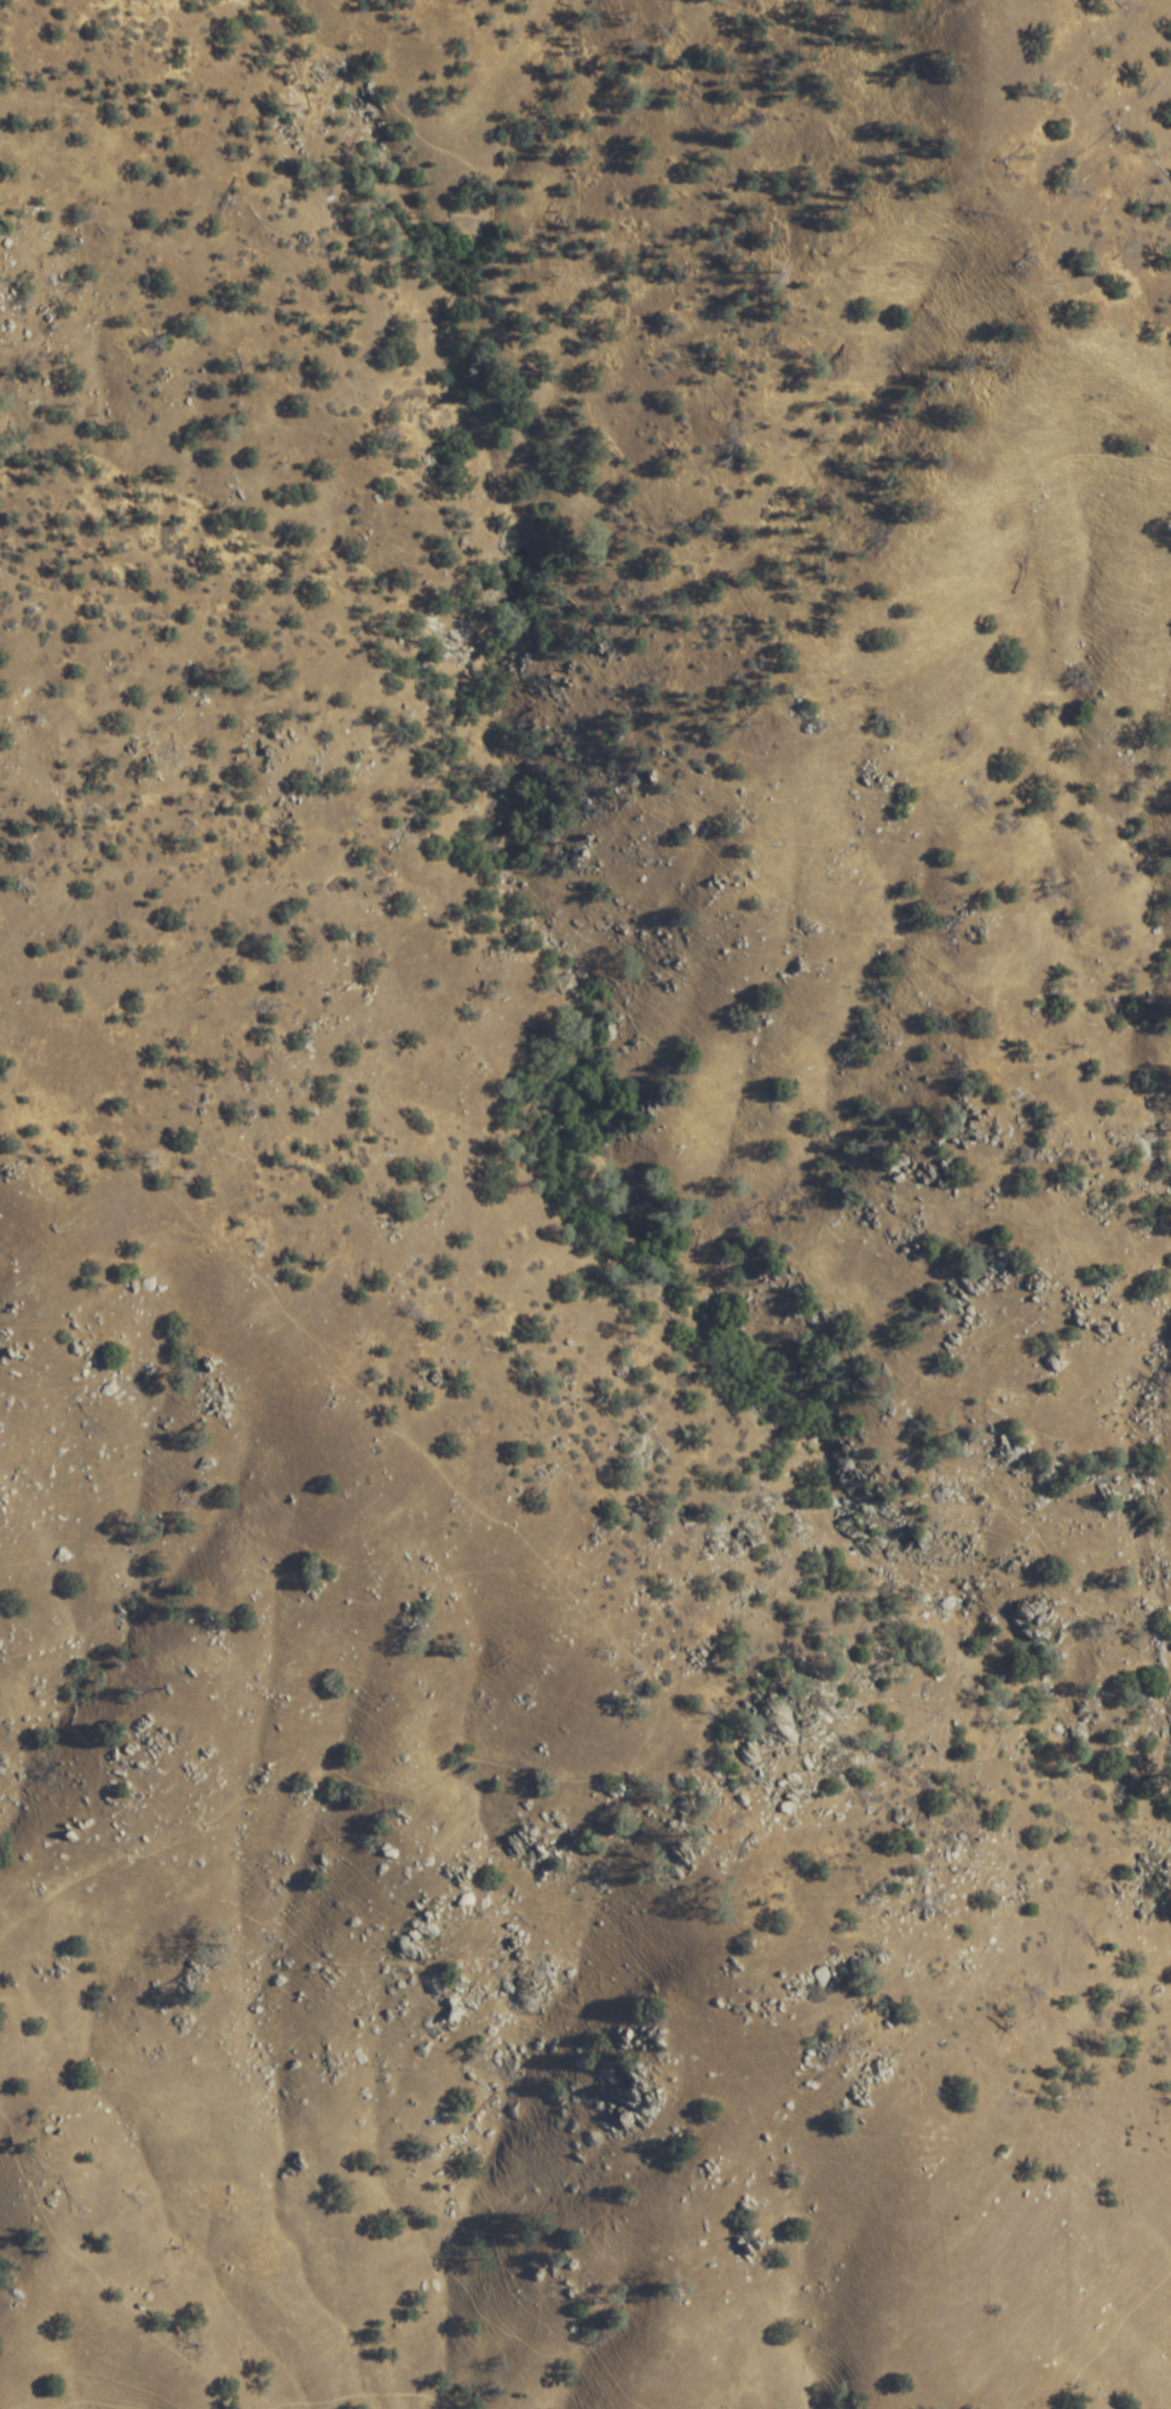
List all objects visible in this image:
road: (1111, 2336)
road: (352, 2394)
road: (104, 2403)

